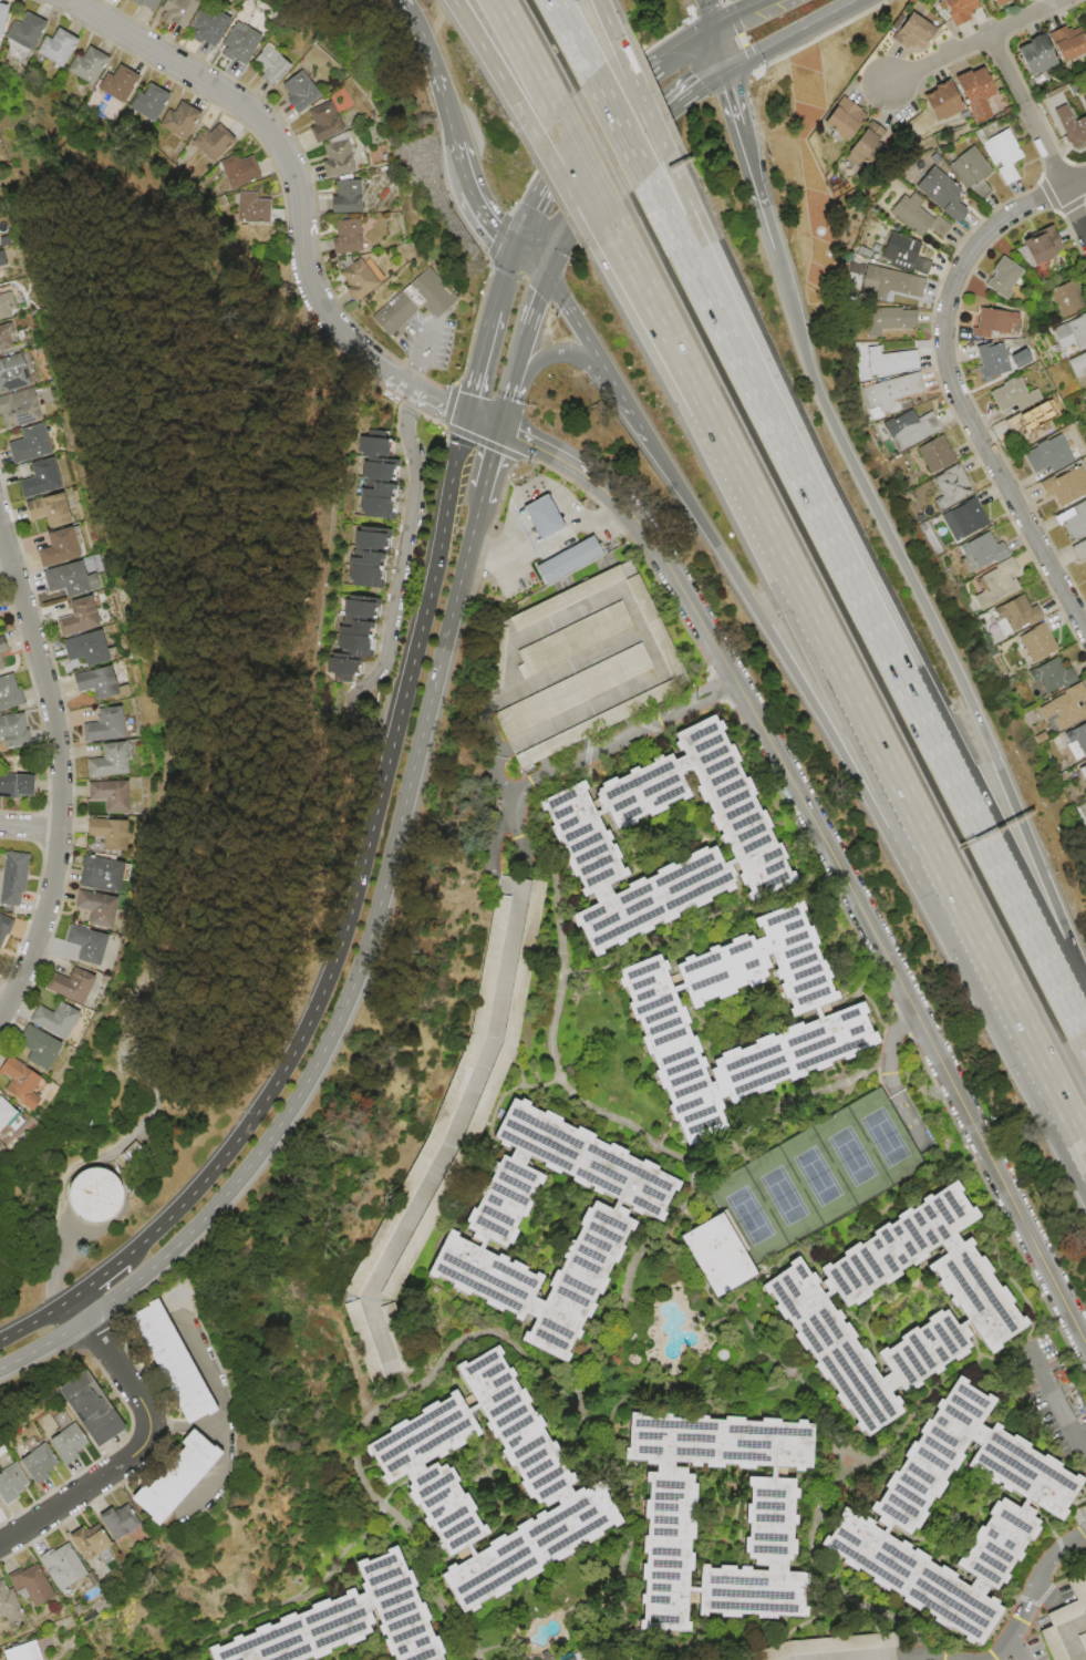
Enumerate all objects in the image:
building: (159, 2)
building: (1001, 2)
building: (146, 3)
road: (732, 9)
building: (959, 9)
building: (192, 11)
road: (705, 11)
building: (8, 17)
road: (608, 23)
building: (220, 27)
building: (35, 30)
building: (913, 32)
road: (422, 34)
road: (787, 35)
road: (571, 37)
road: (680, 39)
building: (1067, 42)
building: (252, 43)
road: (976, 43)
building: (65, 45)
road: (715, 48)
building: (1036, 54)
road: (526, 56)
building: (94, 64)
building: (270, 64)
building: (283, 64)
road: (496, 70)
traffic signals: (722, 73)
building: (123, 84)
building: (974, 86)
building: (314, 90)
building: (299, 91)
road: (730, 99)
road: (642, 101)
building: (943, 101)
building: (155, 103)
road: (446, 107)
building: (845, 118)
building: (185, 121)
building: (323, 121)
building: (339, 121)
road: (618, 125)
building: (1071, 125)
road: (1038, 136)
building: (219, 142)
building: (867, 145)
building: (829, 152)
building: (1003, 154)
building: (350, 157)
road: (619, 162)
road: (747, 162)
road: (582, 166)
building: (244, 169)
road: (548, 169)
building: (972, 171)
road: (1074, 181)
road: (298, 187)
road: (566, 190)
building: (941, 193)
building: (358, 196)
road: (476, 197)
building: (251, 207)
building: (918, 216)
building: (356, 235)
building: (1, 240)
building: (1043, 245)
building: (904, 254)
building: (8, 260)
road: (529, 260)
building: (368, 277)
building: (1003, 277)
building: (890, 281)
building: (1067, 298)
building: (414, 300)
building: (12, 303)
building: (888, 319)
building: (992, 322)
building: (1072, 332)
building: (13, 337)
road: (746, 341)
road: (520, 350)
road: (559, 351)
road: (593, 352)
road: (733, 352)
road: (418, 355)
building: (992, 360)
road: (476, 361)
building: (890, 361)
building: (1078, 364)
building: (21, 373)
building: (891, 390)
building: (1014, 394)
road: (956, 398)
road: (703, 402)
building: (31, 409)
road: (695, 413)
traffic signals: (464, 415)
road: (480, 420)
building: (1031, 423)
traffic signals: (498, 425)
building: (909, 429)
building: (44, 444)
building: (379, 444)
building: (935, 454)
building: (1048, 454)
road: (489, 456)
building: (384, 470)
building: (39, 477)
building: (55, 478)
building: (951, 486)
building: (1066, 486)
building: (384, 489)
road: (480, 493)
building: (382, 506)
building: (64, 509)
building: (541, 516)
building: (964, 518)
building: (1073, 519)
building: (374, 539)
road: (552, 542)
road: (654, 546)
building: (58, 547)
building: (73, 548)
building: (1079, 549)
building: (983, 550)
road: (9, 558)
building: (372, 558)
building: (567, 559)
building: (371, 575)
building: (82, 579)
building: (996, 584)
road: (396, 586)
road: (917, 594)
building: (563, 597)
building: (2, 609)
building: (362, 609)
building: (77, 616)
building: (1016, 616)
building: (94, 618)
building: (651, 627)
building: (361, 628)
building: (573, 638)
building: (1036, 642)
building: (360, 645)
building: (85, 647)
building: (103, 648)
building: (6, 653)
building: (1052, 674)
building: (95, 681)
building: (113, 683)
building: (571, 690)
building: (14, 694)
road: (684, 704)
building: (1065, 708)
building: (1030, 716)
road: (554, 723)
building: (104, 724)
building: (591, 724)
building: (122, 725)
building: (18, 730)
building: (1041, 736)
building: (1077, 740)
road: (593, 755)
building: (107, 760)
building: (126, 762)
road: (68, 763)
building: (1084, 766)
road: (854, 776)
building: (21, 785)
road: (954, 785)
building: (110, 794)
building: (126, 795)
road: (34, 826)
building: (107, 833)
building: (124, 833)
building: (579, 834)
road: (934, 855)
building: (0, 858)
road: (360, 868)
building: (116, 875)
building: (22, 880)
building: (95, 907)
building: (112, 909)
building: (8, 930)
building: (101, 946)
building: (0, 956)
building: (0, 973)
building: (85, 987)
road: (345, 998)
building: (66, 1020)
building: (831, 1021)
road: (925, 1028)
building: (50, 1049)
building: (31, 1083)
road: (461, 1101)
building: (12, 1118)
road: (746, 1127)
road: (1078, 1136)
building: (2, 1144)
water tower: (92, 1193)
building: (93, 1194)
building: (599, 1229)
building: (712, 1252)
building: (363, 1266)
road: (95, 1278)
building: (800, 1307)
road: (35, 1319)
building: (362, 1340)
building: (159, 1357)
road: (1058, 1401)
road: (213, 1402)
building: (79, 1409)
road: (356, 1430)
building: (62, 1442)
road: (132, 1443)
building: (31, 1464)
road: (209, 1468)
building: (544, 1476)
building: (162, 1477)
building: (9, 1482)
building: (893, 1509)
building: (107, 1522)
building: (668, 1528)
building: (79, 1543)
building: (56, 1566)
building: (27, 1584)
road: (1028, 1589)
building: (1077, 1589)
building: (6, 1607)
building: (1062, 1613)
building: (341, 1621)
road: (1067, 1636)
building: (1083, 1641)
building: (1049, 1643)
building: (830, 1648)
building: (18, 1652)

